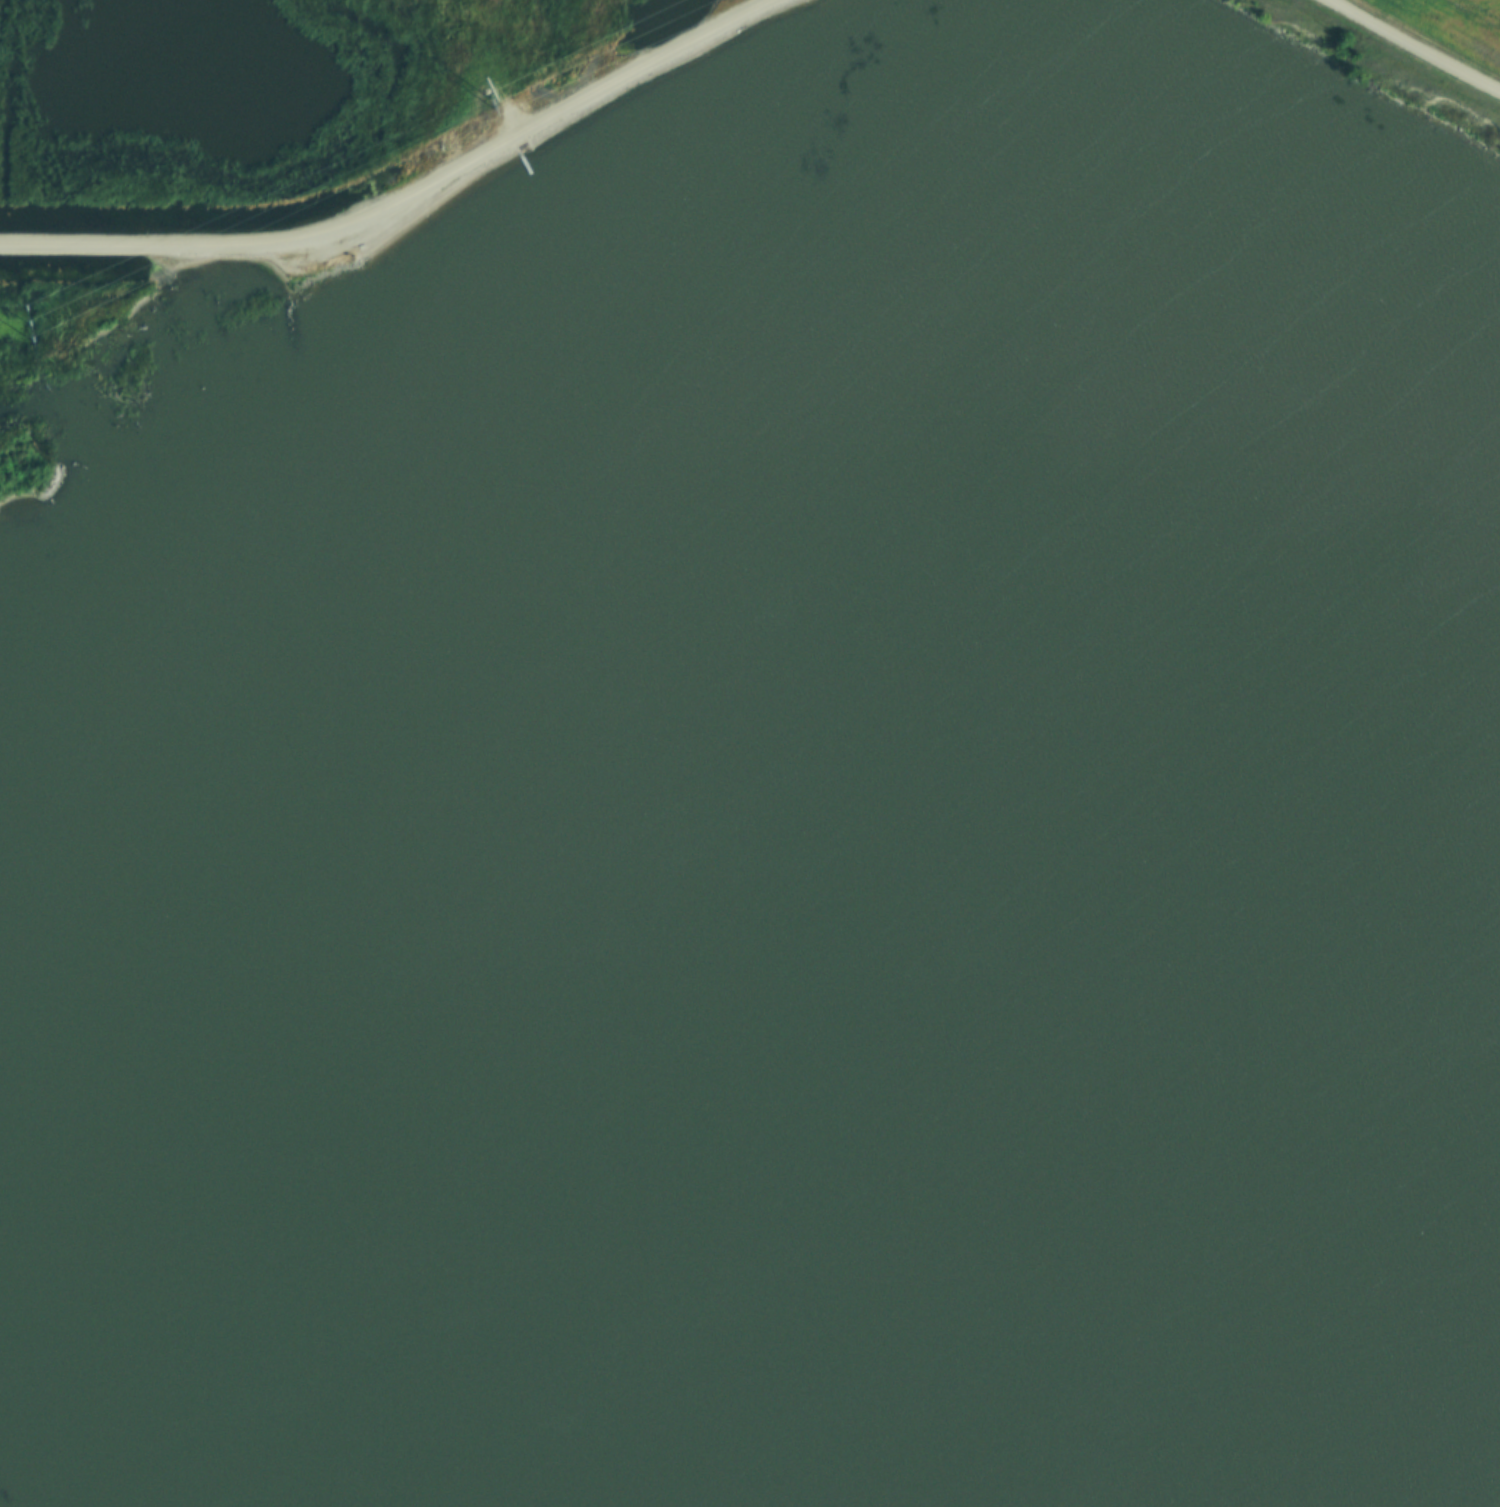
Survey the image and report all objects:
road: (1413, 45)
power tower: (488, 99)
road: (412, 197)
power tower: (25, 316)

